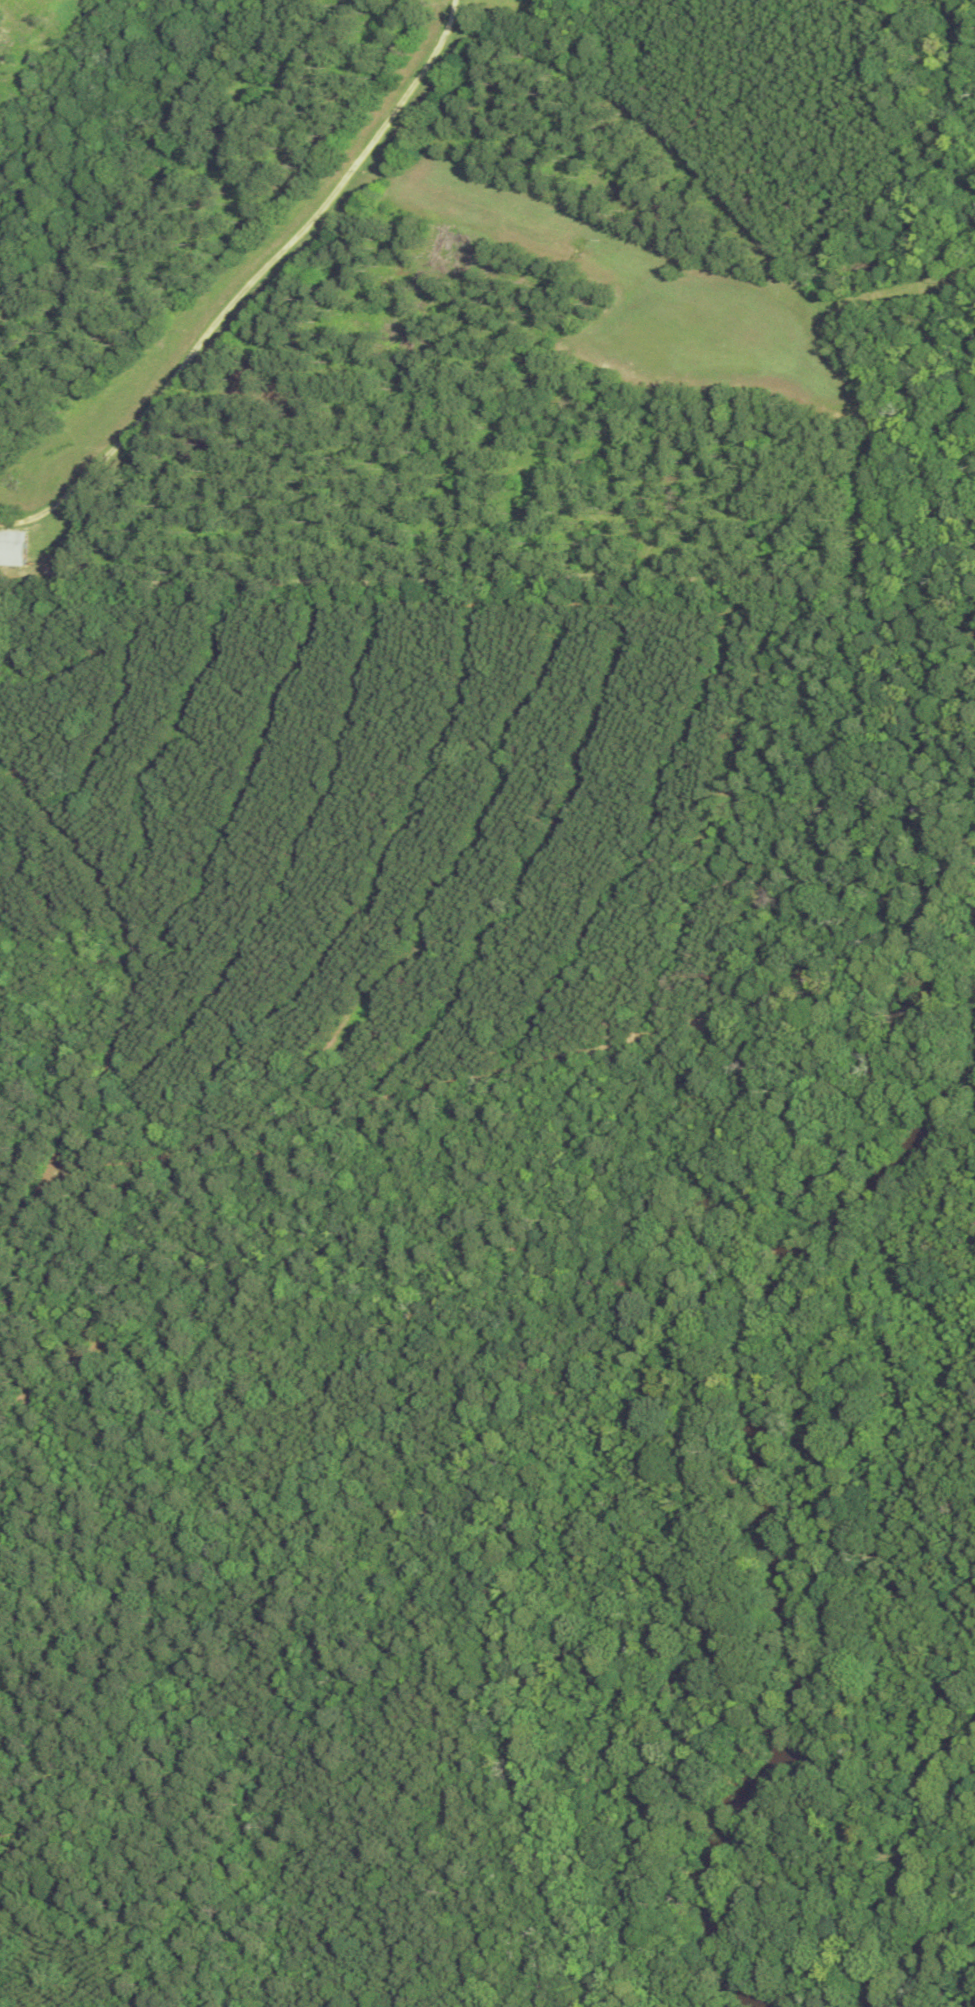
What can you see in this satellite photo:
road: (250, 284)
building: (16, 549)
road: (14, 1228)

